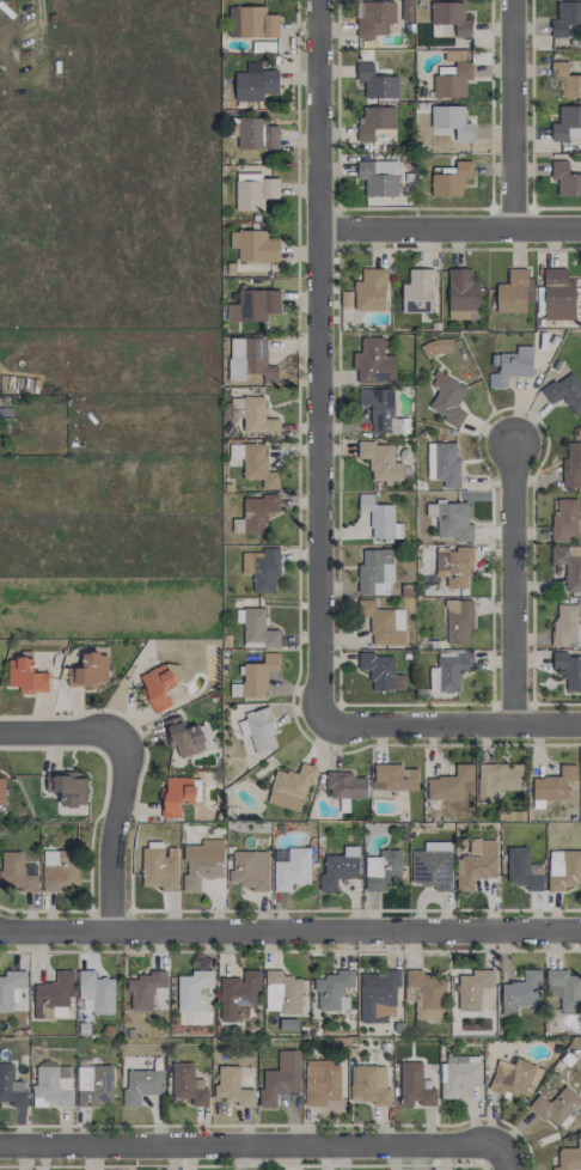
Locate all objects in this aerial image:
building: (451, 17)
building: (375, 18)
building: (565, 18)
building: (251, 23)
building: (455, 54)
building: (451, 79)
building: (567, 80)
building: (255, 83)
building: (377, 83)
road: (515, 115)
building: (374, 121)
building: (451, 121)
building: (567, 123)
building: (257, 135)
building: (378, 177)
building: (452, 179)
building: (565, 179)
building: (253, 190)
road: (447, 228)
building: (253, 245)
building: (371, 290)
building: (417, 291)
building: (514, 292)
building: (558, 295)
building: (347, 299)
building: (257, 304)
building: (436, 347)
building: (249, 359)
road: (314, 361)
building: (374, 361)
building: (512, 366)
building: (564, 391)
building: (447, 398)
building: (381, 410)
building: (256, 416)
building: (380, 462)
building: (255, 464)
building: (442, 464)
building: (571, 465)
building: (257, 512)
building: (380, 518)
building: (564, 519)
building: (451, 520)
building: (568, 565)
building: (454, 566)
building: (265, 569)
building: (374, 571)
road: (514, 580)
building: (458, 620)
building: (383, 622)
building: (567, 623)
building: (257, 629)
building: (90, 670)
building: (448, 670)
building: (568, 670)
building: (381, 672)
building: (257, 675)
building: (25, 676)
building: (157, 685)
road: (447, 719)
building: (257, 731)
building: (184, 737)
road: (115, 774)
building: (393, 776)
building: (497, 779)
building: (449, 784)
building: (554, 784)
building: (1, 785)
building: (345, 785)
building: (66, 787)
building: (290, 787)
building: (175, 796)
building: (201, 863)
building: (476, 864)
building: (159, 866)
building: (432, 866)
building: (338, 867)
building: (250, 869)
building: (292, 869)
building: (563, 869)
building: (59, 870)
building: (381, 870)
building: (522, 870)
building: (17, 872)
road: (289, 931)
building: (564, 987)
building: (11, 988)
building: (191, 988)
building: (472, 988)
building: (145, 989)
building: (332, 991)
building: (519, 992)
building: (94, 993)
building: (282, 993)
building: (424, 994)
building: (238, 995)
building: (378, 995)
building: (53, 997)
building: (459, 1073)
building: (280, 1078)
building: (514, 1078)
building: (188, 1084)
building: (140, 1085)
building: (322, 1085)
building: (368, 1085)
building: (51, 1086)
building: (232, 1086)
building: (414, 1086)
building: (11, 1087)
building: (97, 1087)
building: (555, 1107)
road: (249, 1152)
building: (568, 1158)
road: (499, 1160)

